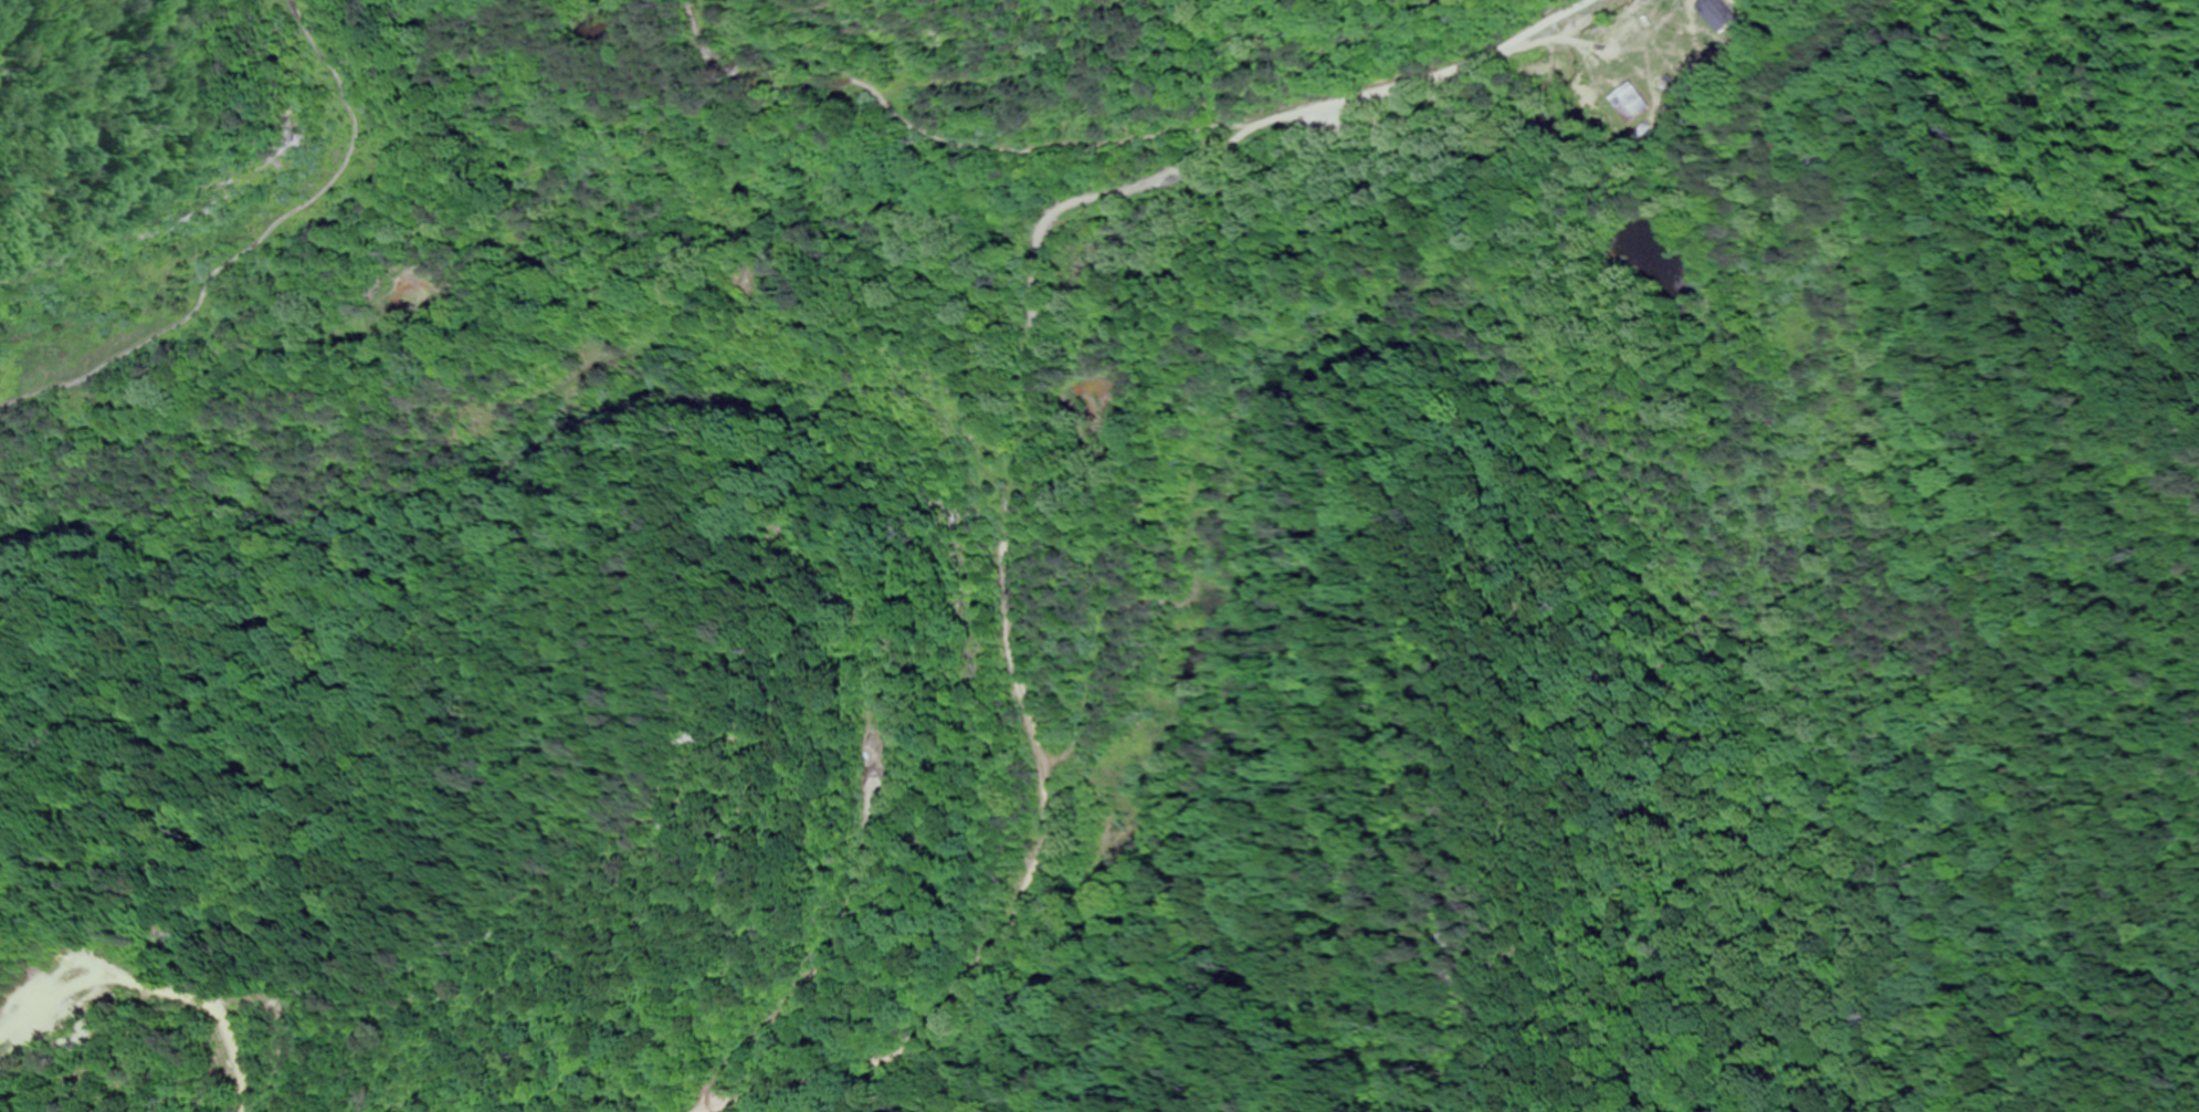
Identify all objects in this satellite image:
building: (1718, 14)
building: (1625, 24)
road: (1460, 72)
building: (1632, 103)

